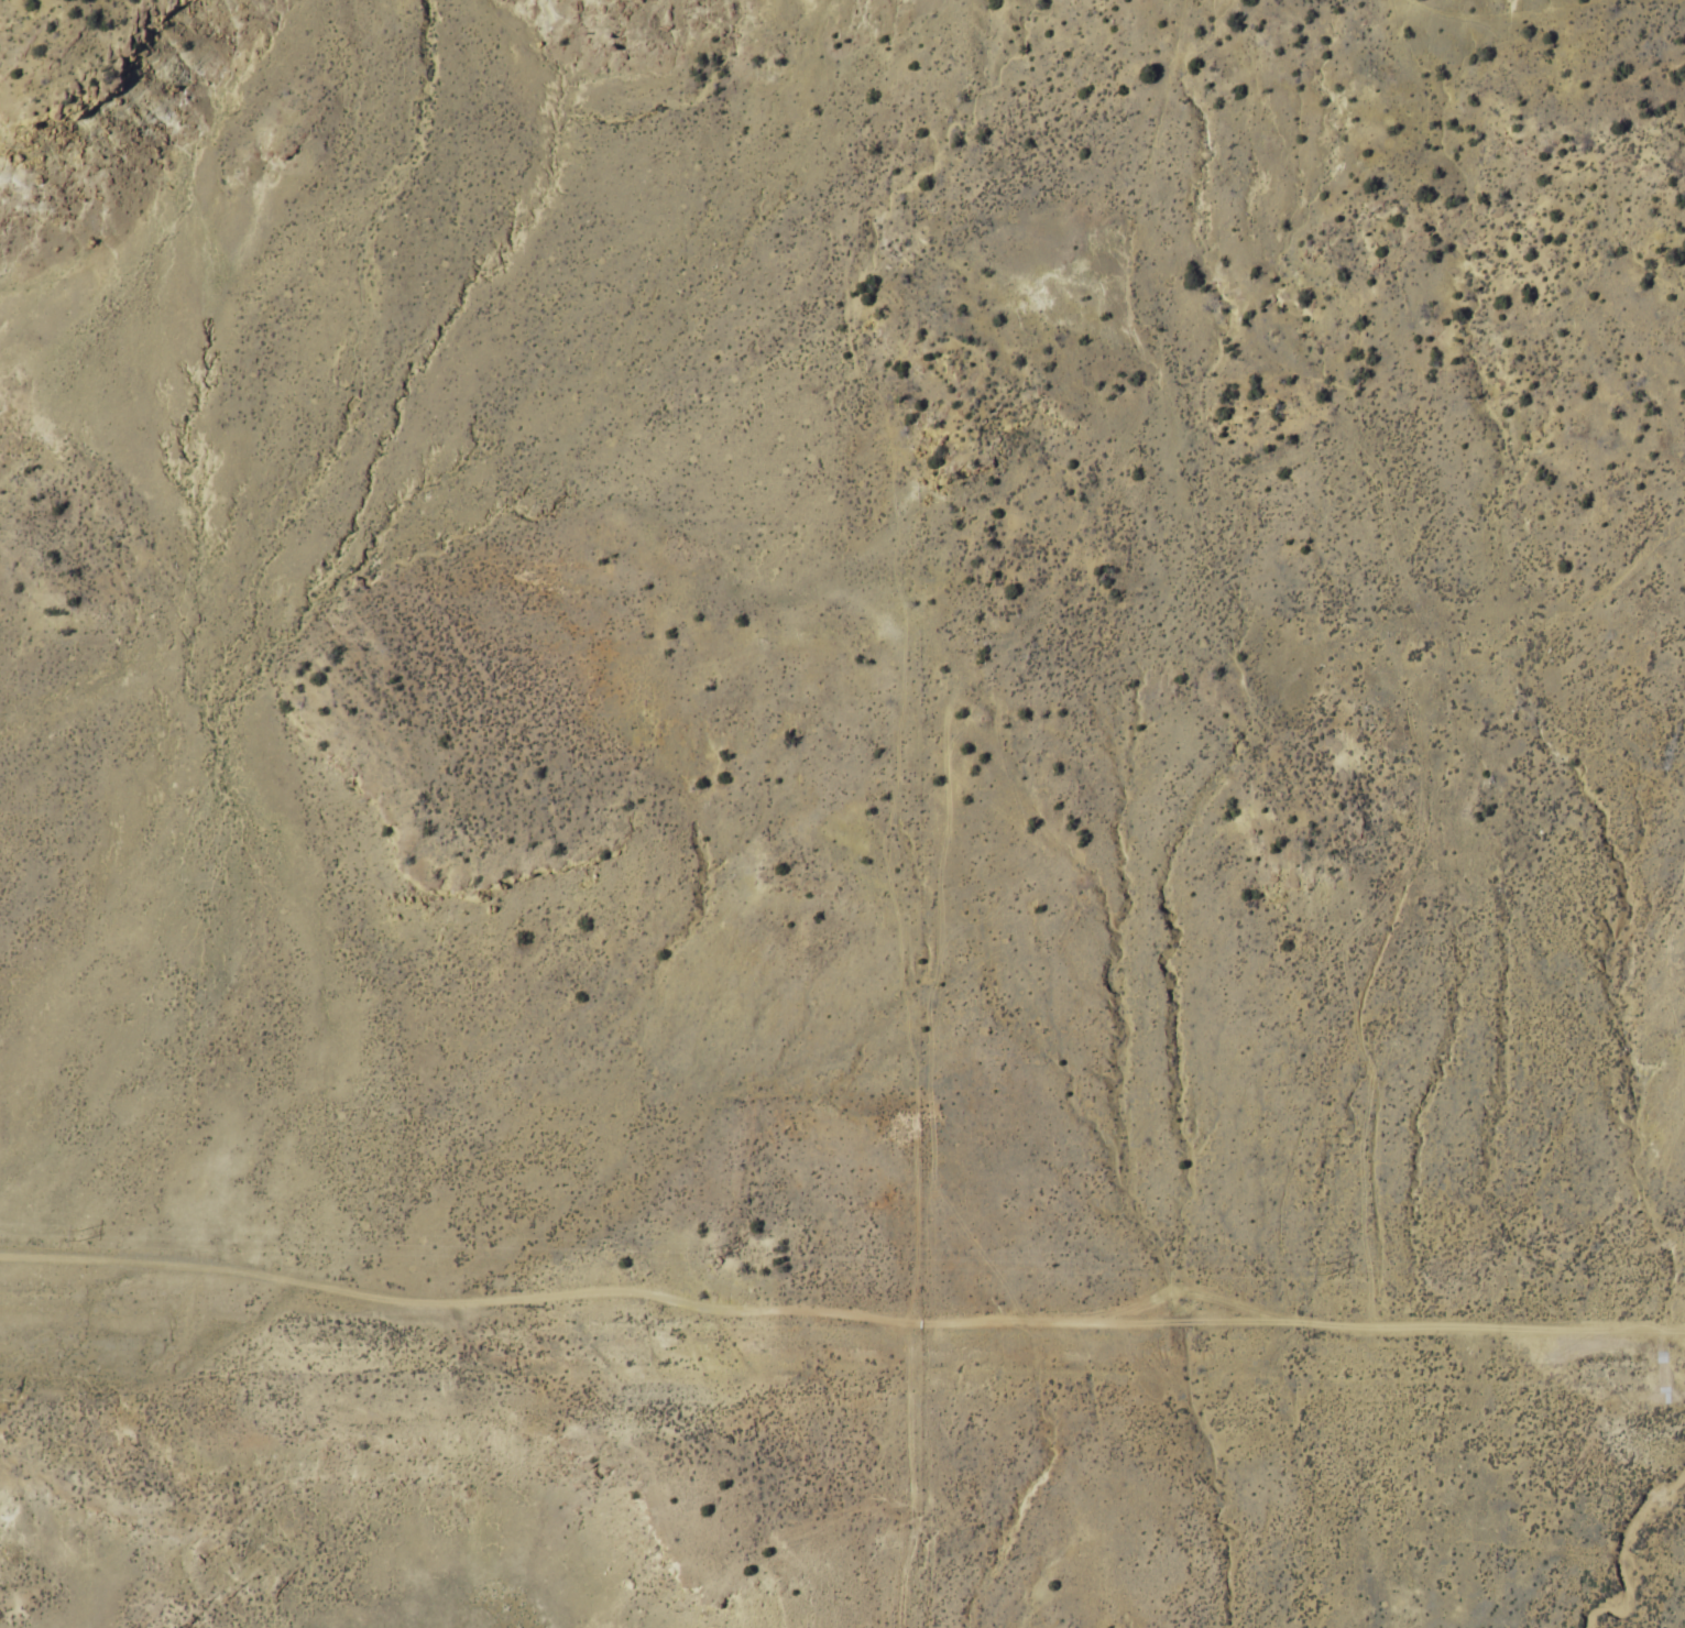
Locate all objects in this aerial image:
road: (1383, 374)
power tower: (79, 1235)
power tower: (715, 1252)
power tower: (1320, 1271)

